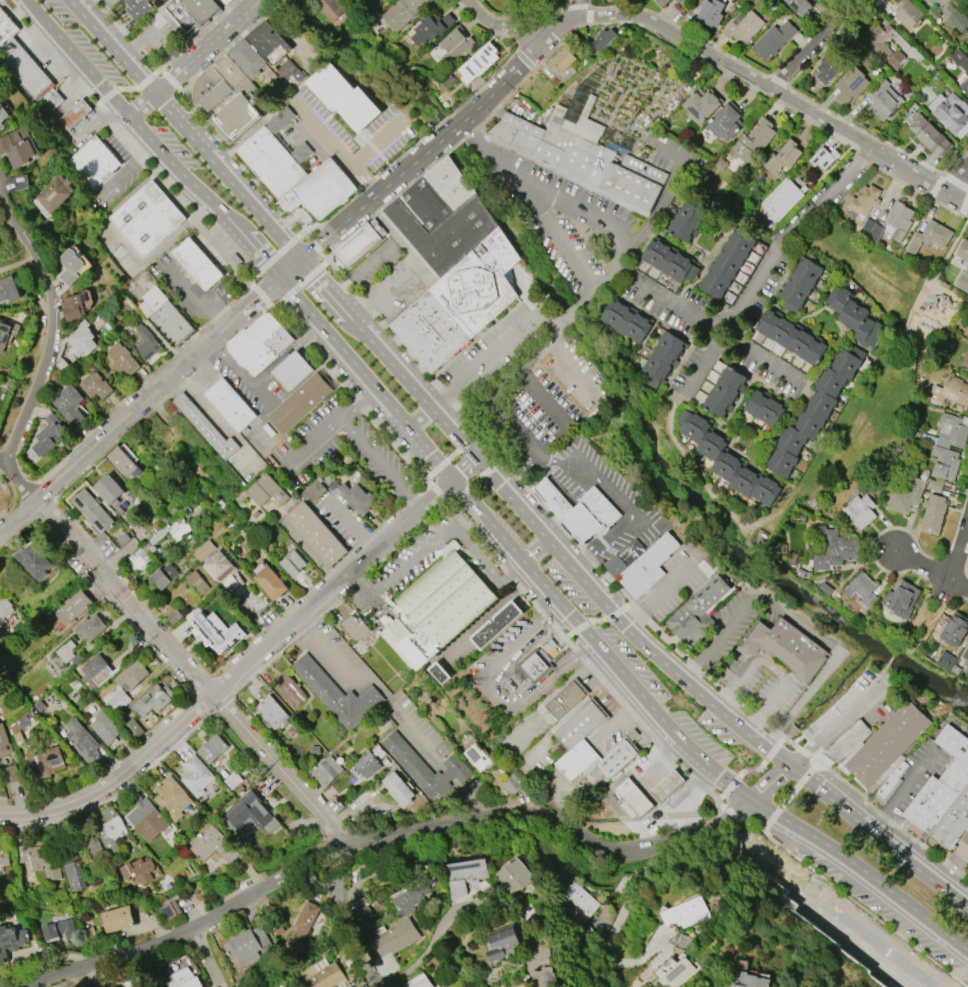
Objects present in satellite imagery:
building: (612, 0)
building: (679, 0)
building: (817, 0)
building: (819, 0)
building: (935, 0)
building: (225, 1)
building: (928, 1)
building: (662, 2)
building: (943, 2)
building: (799, 6)
building: (138, 8)
building: (330, 9)
road: (34, 11)
building: (403, 12)
building: (711, 12)
building: (908, 14)
building: (179, 18)
building: (956, 18)
building: (6, 26)
building: (431, 27)
building: (743, 27)
building: (264, 38)
building: (604, 38)
building: (773, 39)
building: (884, 45)
building: (456, 46)
road: (113, 47)
road: (826, 47)
road: (193, 58)
building: (248, 58)
building: (959, 59)
building: (561, 60)
road: (725, 62)
building: (479, 63)
road: (519, 64)
building: (21, 68)
building: (827, 68)
building: (213, 75)
building: (852, 84)
building: (201, 87)
building: (965, 87)
building: (215, 95)
building: (344, 97)
building: (51, 98)
building: (885, 103)
building: (702, 105)
gas station: (70, 111)
building: (74, 112)
building: (3, 114)
building: (951, 114)
building: (234, 118)
building: (726, 122)
road: (143, 130)
road: (450, 131)
building: (930, 136)
building: (754, 140)
road: (376, 141)
road: (332, 145)
building: (17, 147)
building: (301, 152)
building: (782, 158)
building: (822, 159)
building: (271, 162)
building: (581, 162)
building: (90, 163)
road: (128, 173)
road: (225, 176)
road: (670, 184)
road: (960, 186)
building: (320, 190)
building: (54, 193)
road: (536, 197)
road: (371, 199)
building: (779, 200)
building: (865, 200)
road: (581, 213)
building: (150, 218)
building: (686, 221)
building: (898, 221)
building: (931, 236)
building: (359, 240)
road: (315, 245)
building: (963, 250)
road: (263, 253)
road: (274, 257)
building: (670, 261)
building: (198, 263)
building: (728, 263)
road: (768, 263)
road: (613, 264)
building: (70, 266)
road: (289, 266)
road: (356, 267)
road: (417, 267)
road: (311, 275)
building: (479, 281)
building: (963, 281)
road: (299, 284)
building: (800, 285)
building: (9, 290)
road: (262, 292)
road: (296, 295)
road: (586, 298)
road: (196, 299)
building: (74, 307)
road: (570, 312)
building: (167, 316)
building: (856, 317)
building: (628, 320)
building: (261, 326)
road: (710, 327)
building: (430, 328)
building: (4, 334)
building: (794, 337)
building: (278, 338)
building: (82, 339)
building: (146, 343)
road: (502, 343)
building: (250, 351)
building: (122, 359)
building: (663, 359)
building: (965, 360)
park: (887, 361)
park: (887, 361)
road: (523, 364)
building: (293, 368)
road: (236, 373)
building: (967, 374)
building: (95, 385)
building: (725, 392)
road: (352, 393)
building: (952, 393)
road: (545, 396)
road: (385, 397)
road: (141, 400)
building: (300, 401)
road: (357, 403)
building: (69, 404)
building: (230, 405)
building: (766, 408)
building: (814, 413)
road: (420, 417)
road: (216, 420)
building: (205, 427)
building: (951, 431)
building: (49, 435)
road: (309, 443)
road: (818, 450)
road: (451, 454)
road: (3, 456)
building: (727, 460)
building: (945, 462)
building: (124, 463)
road: (379, 464)
parking lot: (373, 467)
road: (464, 470)
road: (475, 481)
building: (109, 490)
building: (313, 490)
building: (267, 491)
road: (438, 491)
building: (553, 496)
building: (357, 497)
building: (905, 498)
road: (618, 501)
road: (541, 504)
building: (598, 504)
building: (860, 510)
building: (92, 511)
building: (933, 514)
building: (580, 520)
road: (351, 522)
building: (171, 531)
building: (315, 534)
road: (77, 543)
building: (833, 547)
building: (204, 551)
road: (535, 551)
road: (960, 554)
building: (140, 558)
building: (33, 560)
building: (292, 563)
parking lot: (400, 563)
building: (648, 565)
building: (708, 566)
road: (923, 566)
road: (487, 568)
building: (223, 571)
road: (399, 571)
building: (162, 577)
building: (197, 582)
building: (271, 582)
road: (960, 587)
road: (661, 589)
building: (861, 589)
road: (958, 596)
building: (901, 599)
building: (72, 607)
building: (436, 609)
road: (919, 610)
building: (699, 611)
road: (487, 612)
building: (4, 615)
building: (174, 617)
road: (932, 619)
road: (596, 620)
road: (801, 621)
road: (622, 624)
building: (496, 625)
building: (356, 627)
building: (90, 628)
building: (954, 629)
building: (213, 631)
building: (785, 647)
building: (69, 653)
building: (965, 653)
road: (578, 655)
road: (889, 658)
building: (945, 660)
road: (934, 664)
building: (535, 666)
road: (770, 667)
road: (237, 670)
building: (95, 672)
building: (440, 673)
road: (879, 676)
road: (371, 680)
building: (124, 687)
building: (291, 690)
road: (550, 693)
building: (338, 694)
road: (492, 694)
building: (154, 700)
building: (565, 700)
building: (38, 704)
building: (273, 713)
road: (619, 714)
building: (21, 727)
building: (104, 728)
building: (133, 729)
building: (82, 740)
building: (847, 741)
building: (4, 742)
road: (812, 742)
road: (684, 743)
building: (887, 743)
building: (589, 748)
building: (212, 749)
building: (478, 755)
road: (767, 757)
road: (659, 758)
building: (44, 761)
building: (366, 763)
building: (425, 766)
building: (327, 770)
building: (10, 774)
building: (196, 776)
building: (232, 780)
building: (512, 783)
building: (667, 786)
road: (852, 787)
building: (398, 788)
road: (903, 791)
road: (789, 795)
road: (673, 796)
building: (634, 797)
building: (172, 798)
building: (252, 813)
road: (740, 815)
building: (147, 819)
building: (954, 824)
road: (554, 825)
building: (110, 828)
building: (91, 843)
building: (213, 846)
building: (4, 855)
building: (41, 859)
road: (951, 863)
building: (72, 868)
building: (468, 870)
building: (138, 871)
building: (513, 876)
building: (407, 900)
building: (580, 902)
road: (864, 908)
building: (170, 910)
building: (359, 912)
building: (687, 913)
building: (118, 919)
road: (615, 924)
building: (303, 925)
road: (192, 926)
road: (345, 926)
building: (60, 930)
building: (88, 933)
building: (396, 937)
building: (12, 938)
building: (680, 940)
road: (430, 942)
building: (247, 944)
building: (503, 944)
road: (209, 956)
building: (674, 968)
building: (324, 974)
building: (544, 977)
building: (183, 979)
building: (749, 980)
building: (422, 983)
building: (283, 986)
building: (284, 986)

